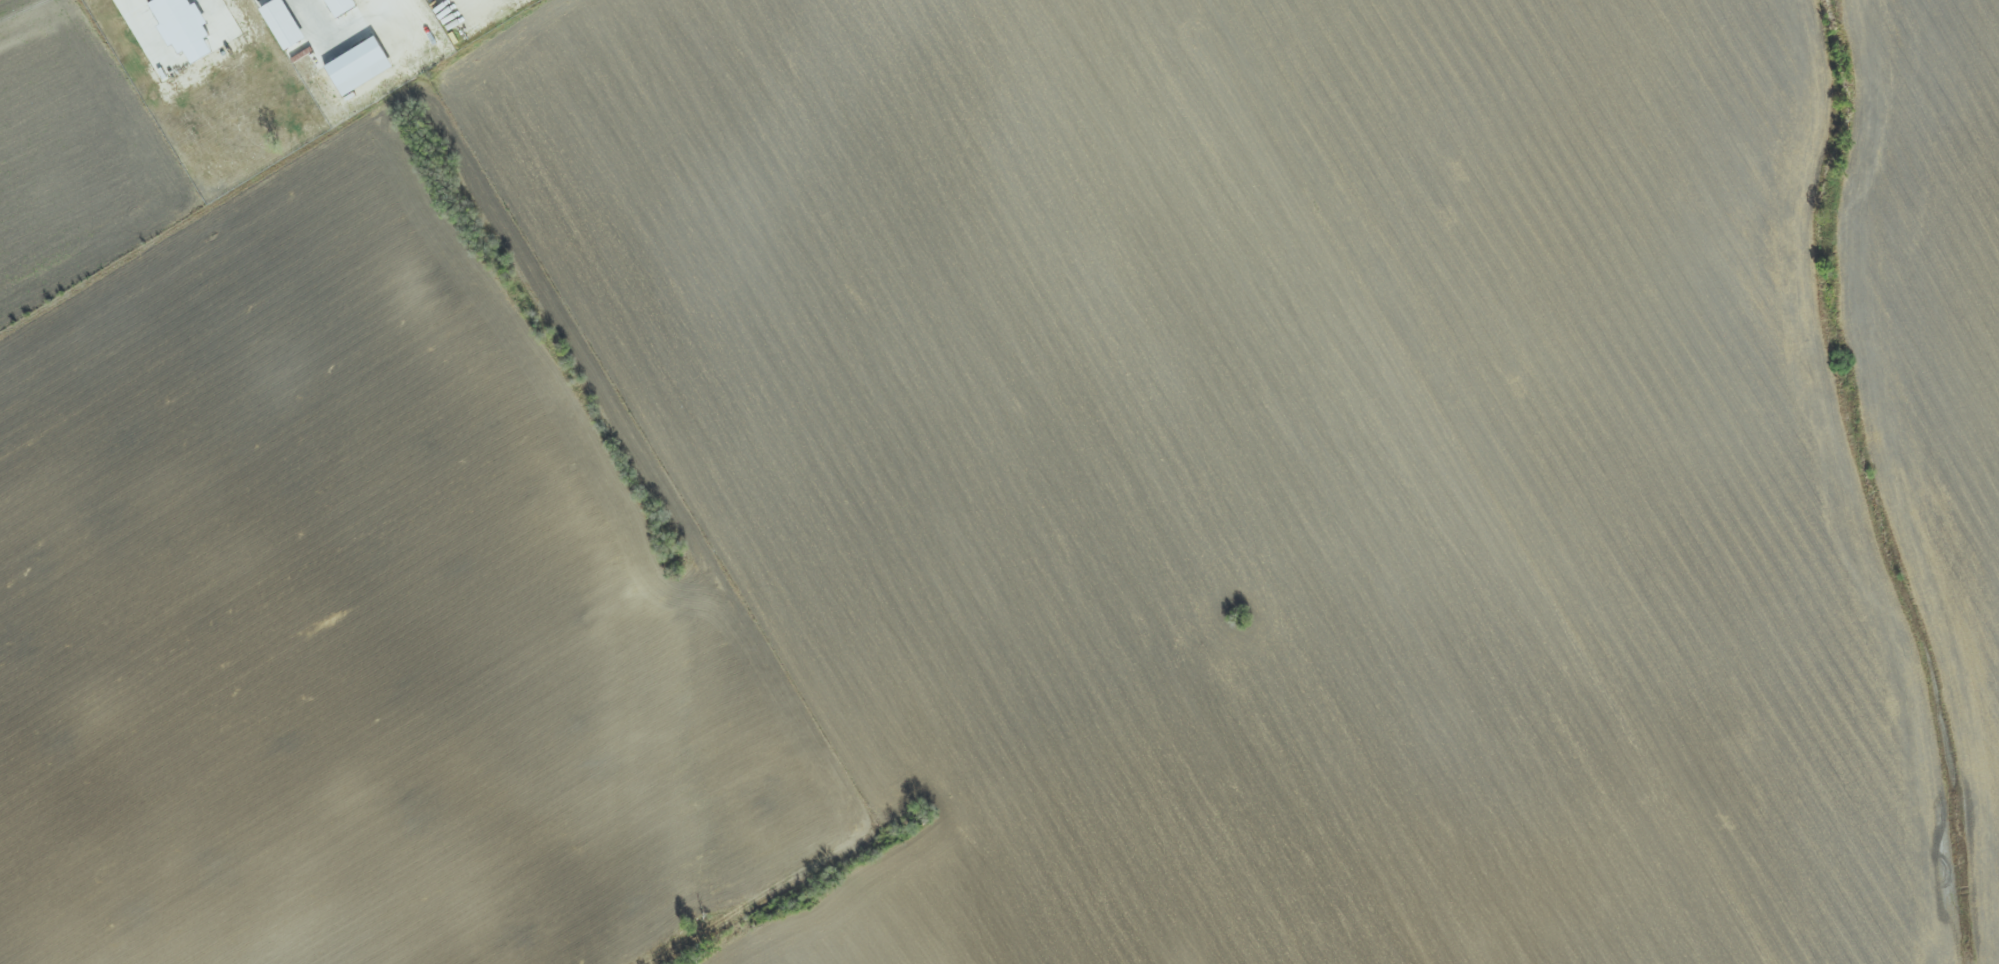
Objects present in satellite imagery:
building: (333, 8)
building: (282, 23)
building: (189, 25)
road: (341, 32)
road: (149, 33)
building: (353, 70)
crop: (127, 592)

